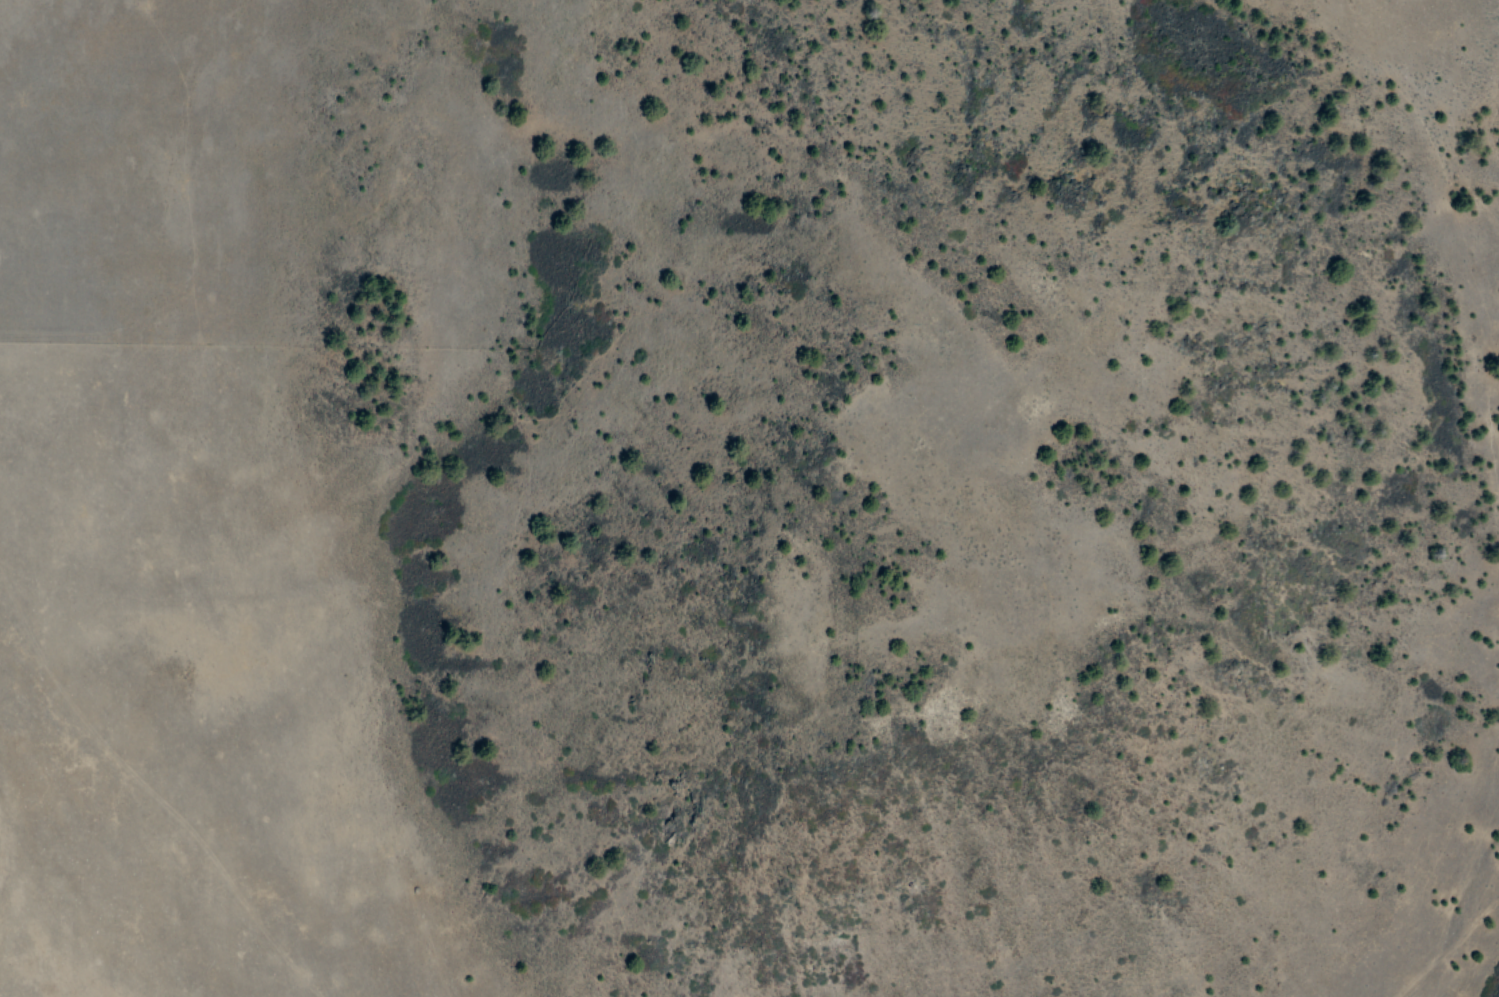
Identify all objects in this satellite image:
road: (1445, 944)

